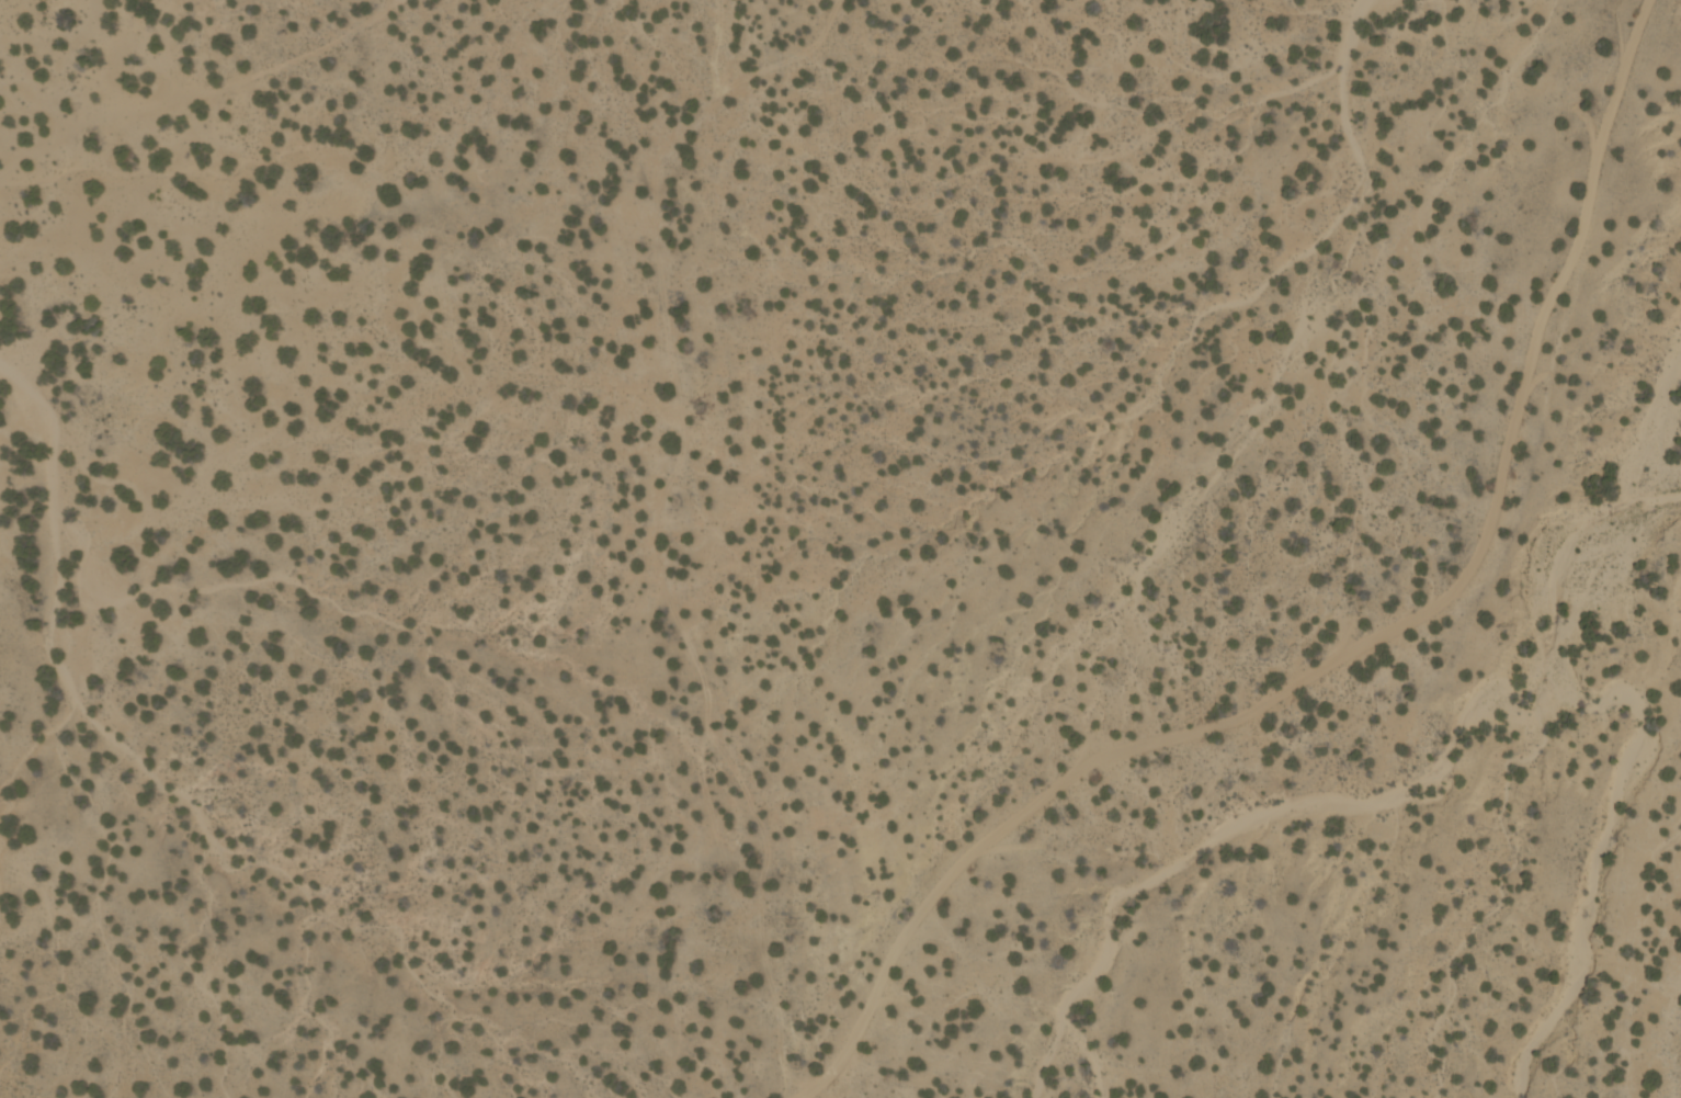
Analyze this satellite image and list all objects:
road: (1349, 650)

